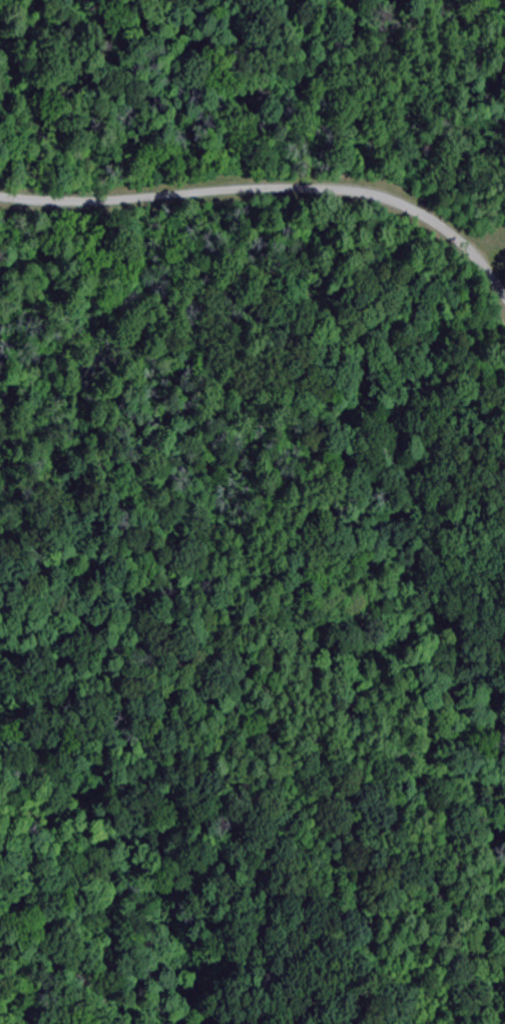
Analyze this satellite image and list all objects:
road: (271, 190)

